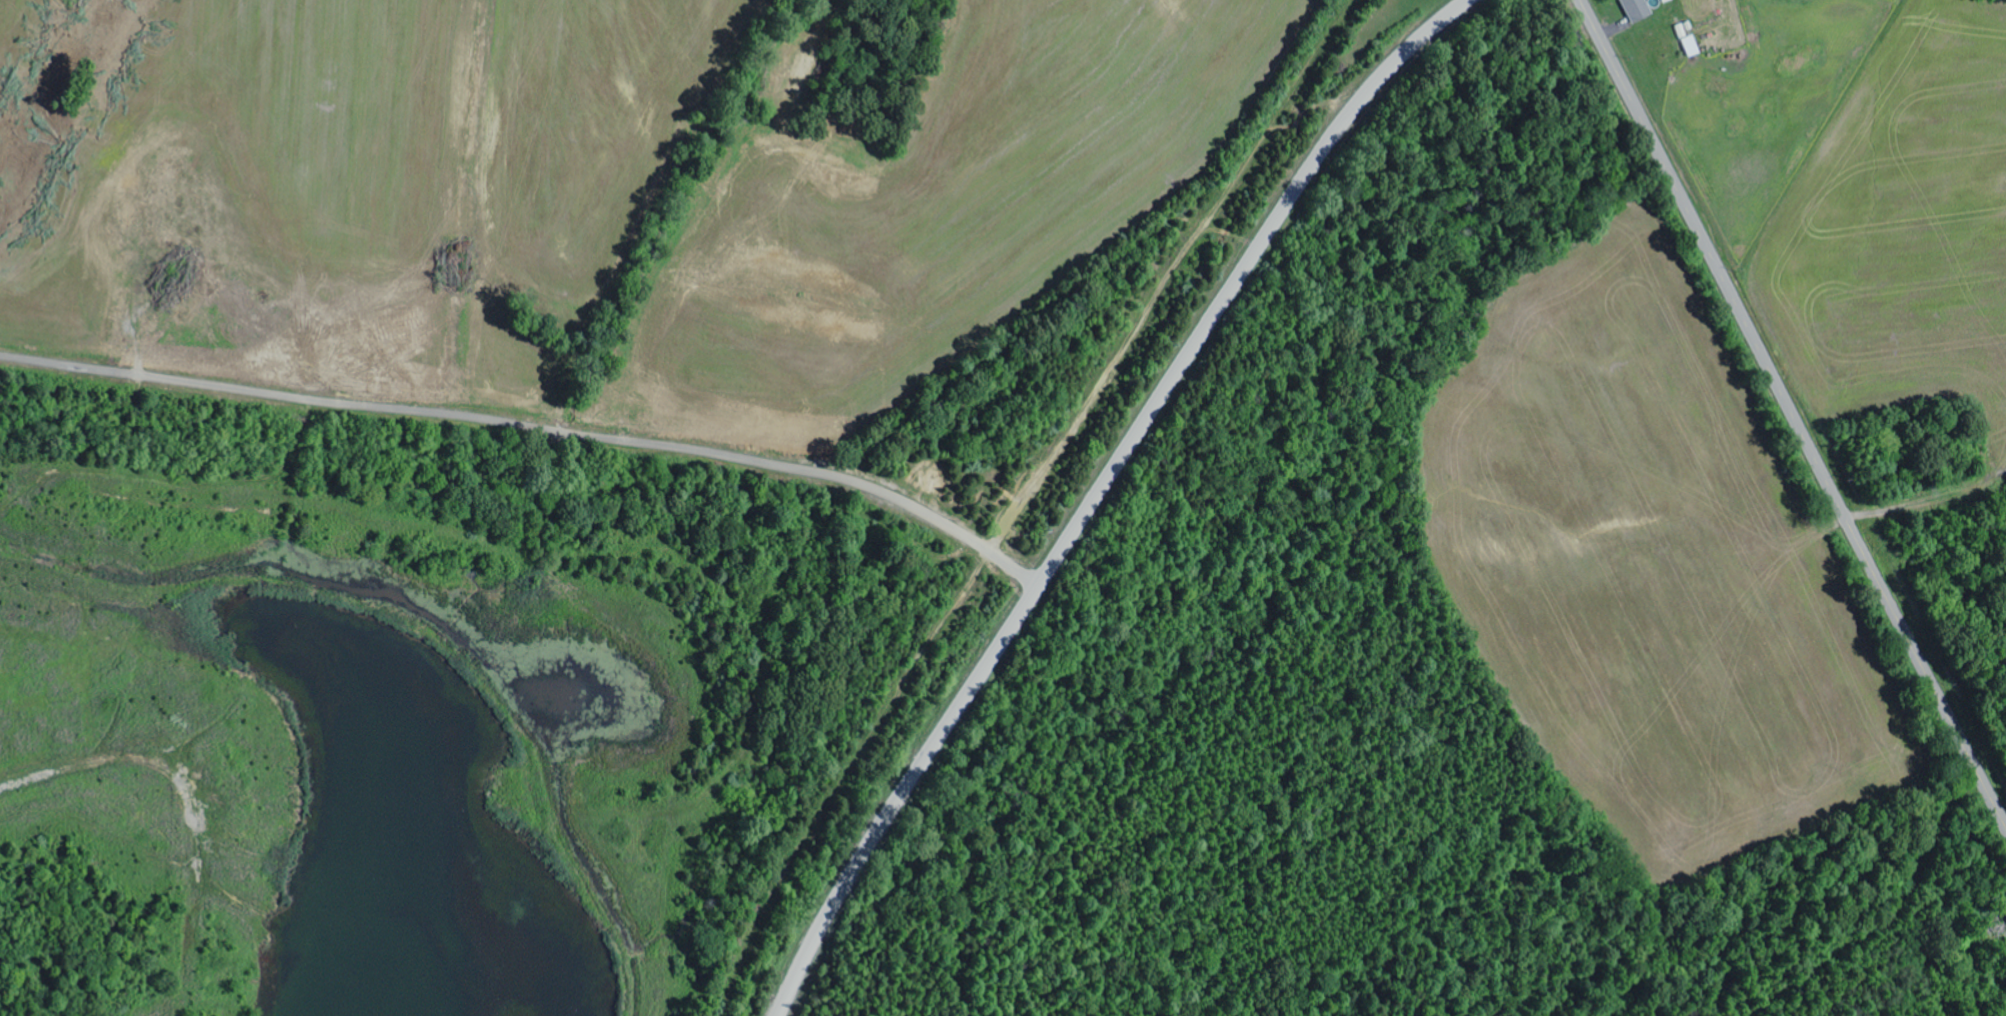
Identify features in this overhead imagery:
building: (1633, 10)
crop: (609, 182)
road: (1792, 412)
road: (531, 427)
road: (1098, 489)

